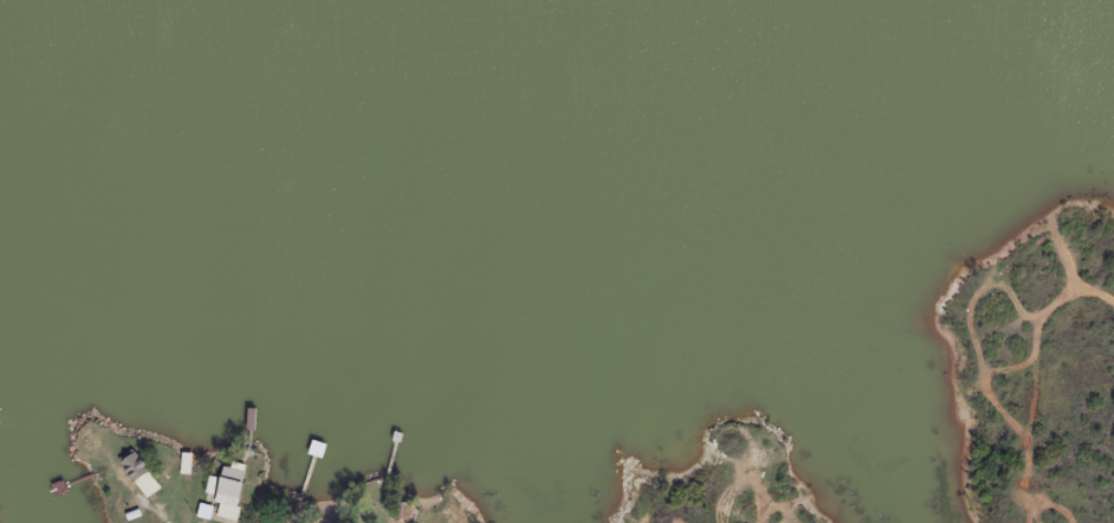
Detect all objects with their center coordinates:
building: (137, 472)
building: (223, 494)
building: (399, 509)

